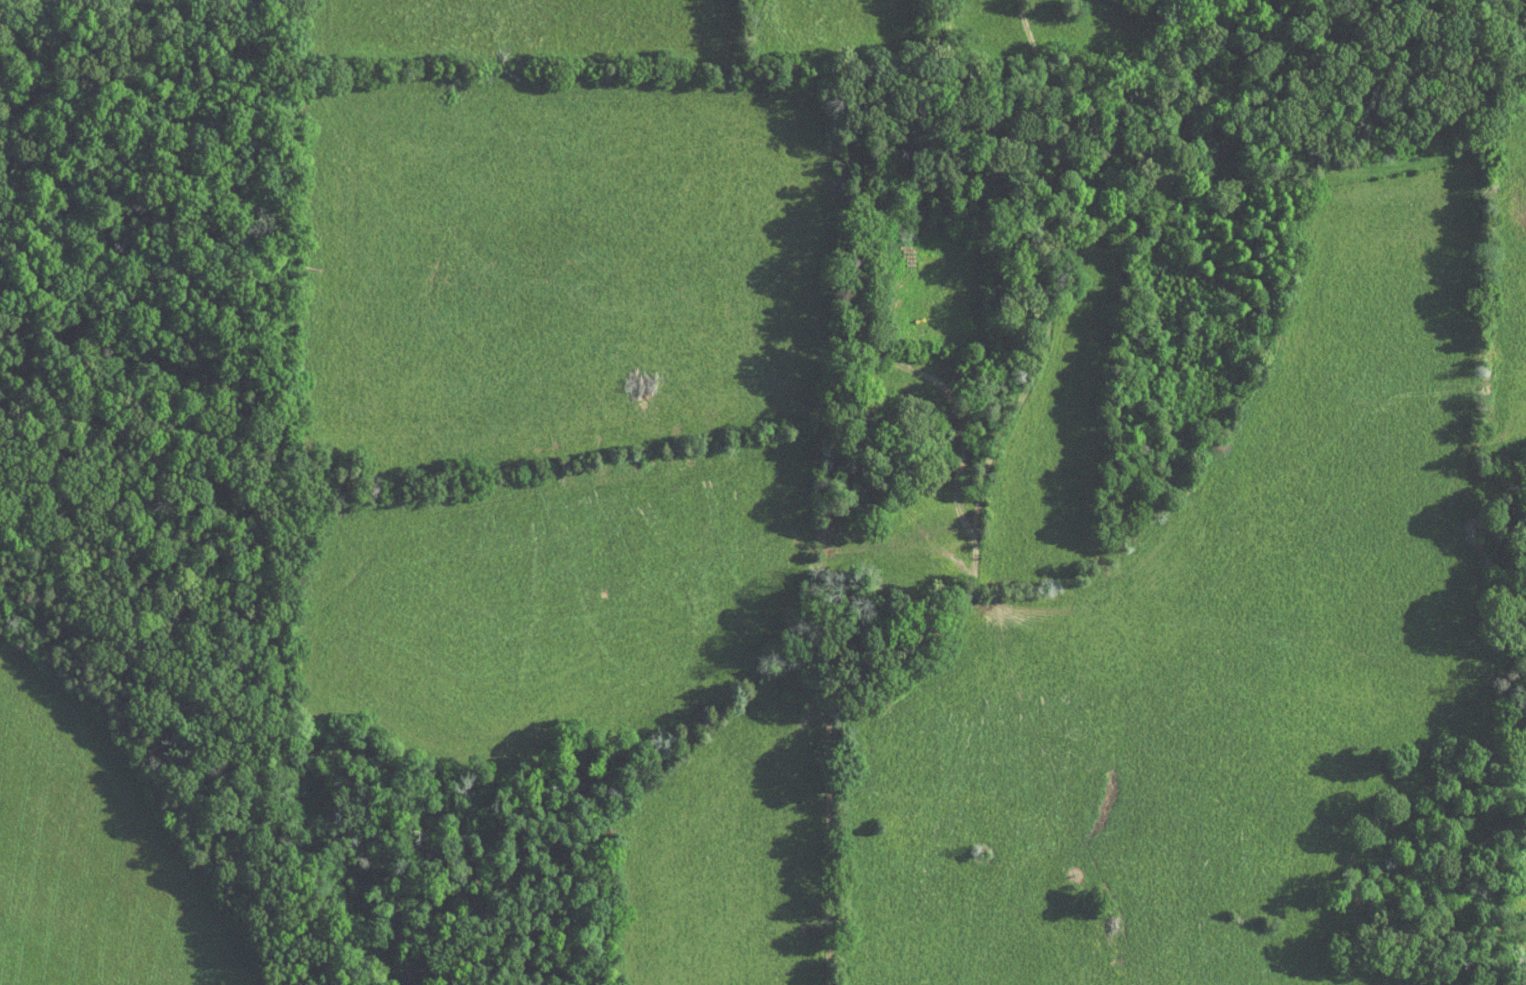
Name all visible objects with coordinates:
road: (973, 582)

